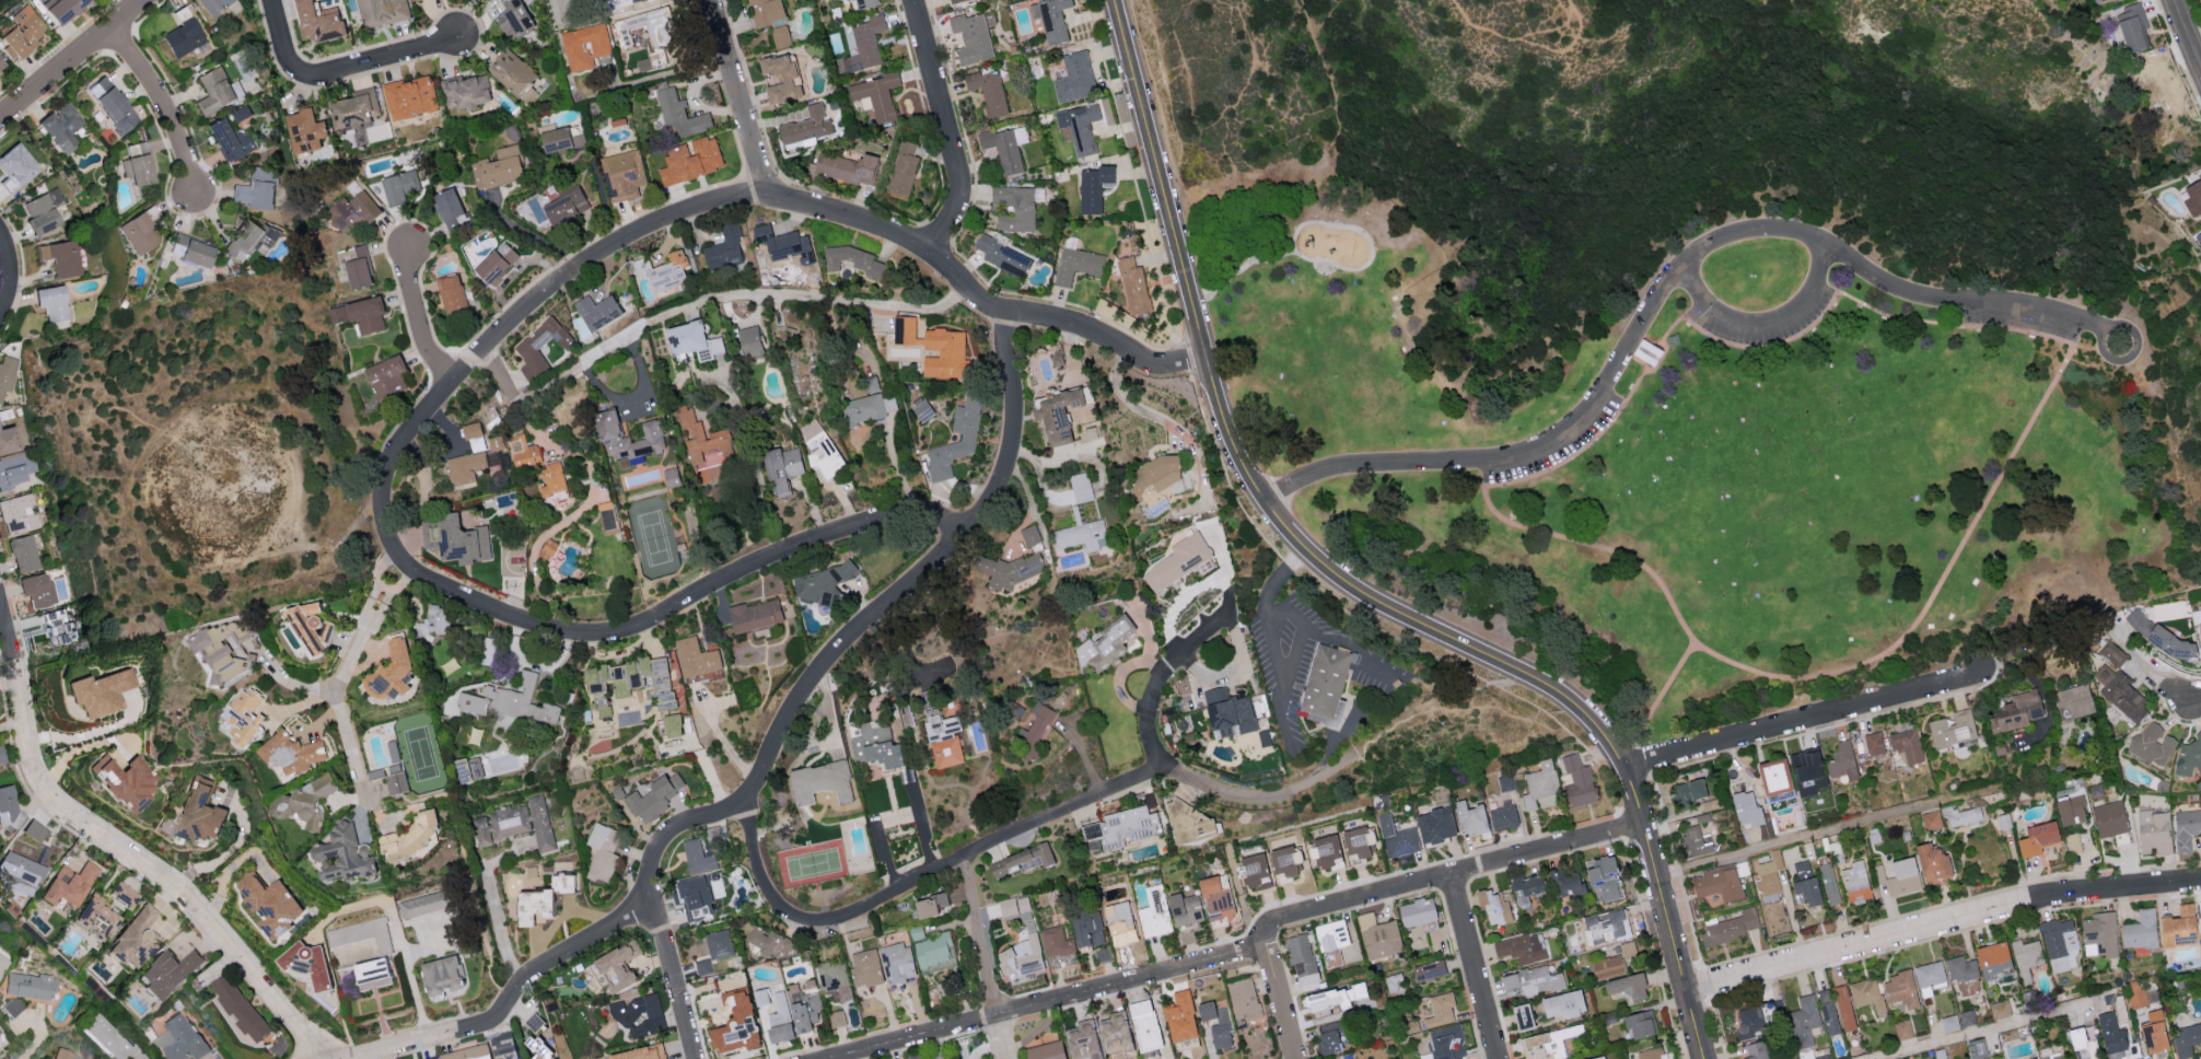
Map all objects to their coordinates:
building: (954, 1)
building: (862, 3)
building: (211, 5)
building: (59, 10)
building: (381, 11)
building: (765, 11)
building: (513, 19)
building: (1051, 19)
building: (315, 21)
building: (2132, 26)
road: (2189, 31)
building: (20, 32)
building: (780, 36)
building: (971, 37)
building: (180, 38)
road: (1530, 42)
building: (865, 43)
building: (584, 45)
road: (72, 60)
building: (0, 66)
road: (335, 71)
building: (512, 72)
building: (780, 77)
building: (1074, 77)
building: (213, 91)
building: (465, 91)
building: (988, 91)
building: (527, 94)
building: (876, 94)
building: (409, 96)
road: (737, 98)
building: (110, 104)
road: (166, 106)
building: (353, 107)
building: (678, 115)
building: (805, 125)
building: (1079, 126)
building: (59, 127)
road: (945, 127)
building: (301, 130)
building: (229, 139)
building: (559, 139)
building: (1005, 147)
building: (689, 160)
building: (14, 166)
building: (137, 166)
building: (500, 166)
building: (846, 167)
building: (901, 170)
building: (2200, 173)
building: (622, 174)
building: (397, 186)
building: (1092, 187)
building: (256, 188)
building: (2192, 198)
building: (363, 206)
building: (562, 206)
building: (1016, 206)
building: (446, 207)
building: (40, 211)
road: (1323, 226)
building: (137, 233)
building: (251, 238)
building: (777, 242)
building: (723, 247)
building: (42, 252)
building: (191, 252)
building: (1003, 256)
building: (65, 258)
building: (853, 259)
building: (493, 261)
building: (1076, 264)
building: (354, 267)
building: (664, 270)
road: (10, 272)
building: (1133, 284)
building: (450, 292)
road: (729, 294)
road: (1664, 296)
building: (50, 302)
building: (595, 312)
building: (359, 314)
road: (416, 318)
parking lot: (1805, 319)
parking lot: (2023, 321)
park: (1711, 324)
road: (1767, 325)
road: (2112, 327)
building: (689, 340)
road: (1111, 340)
building: (748, 341)
building: (531, 344)
building: (934, 348)
building: (1646, 352)
building: (1056, 359)
building: (8, 373)
building: (385, 375)
road: (497, 375)
building: (870, 383)
building: (869, 406)
building: (922, 410)
building: (1056, 416)
road: (1154, 418)
building: (470, 430)
building: (1087, 432)
building: (652, 437)
building: (968, 437)
building: (7, 439)
road: (401, 445)
building: (702, 445)
parking lot: (1560, 447)
building: (522, 450)
road: (752, 459)
road: (895, 465)
building: (465, 466)
building: (780, 467)
building: (18, 468)
road: (1246, 472)
building: (1152, 474)
building: (669, 477)
building: (550, 479)
building: (1078, 487)
building: (19, 514)
building: (1079, 535)
building: (1026, 536)
building: (459, 540)
building: (23, 554)
building: (1178, 560)
building: (1003, 570)
road: (921, 573)
building: (816, 584)
building: (36, 589)
building: (753, 614)
building: (435, 619)
road: (366, 624)
building: (55, 625)
building: (314, 629)
road: (1300, 629)
building: (2199, 631)
road: (1274, 639)
building: (220, 644)
building: (1105, 644)
road: (1347, 645)
building: (488, 650)
building: (2112, 653)
building: (698, 659)
building: (449, 665)
building: (391, 670)
building: (625, 674)
road: (1828, 678)
road: (291, 683)
building: (1325, 685)
building: (94, 691)
building: (2121, 691)
road: (2178, 694)
building: (2074, 699)
building: (511, 701)
road: (1656, 705)
building: (1013, 711)
building: (2016, 711)
building: (1227, 712)
building: (242, 713)
road: (1803, 717)
building: (672, 724)
building: (1034, 726)
building: (1953, 729)
building: (1265, 737)
building: (941, 738)
building: (1874, 742)
road: (348, 743)
building: (872, 744)
road: (1153, 744)
building: (2152, 744)
building: (1906, 745)
building: (288, 752)
building: (1, 754)
building: (2190, 754)
building: (1841, 760)
building: (1806, 771)
building: (1773, 775)
building: (394, 780)
building: (818, 780)
building: (120, 781)
building: (1577, 781)
building: (1540, 785)
building: (1688, 791)
building: (654, 795)
building: (304, 800)
building: (8, 807)
building: (2071, 808)
building: (197, 810)
building: (1750, 813)
building: (1503, 815)
building: (1960, 815)
building: (1469, 816)
building: (1701, 817)
building: (2109, 817)
building: (1930, 818)
building: (1187, 821)
building: (516, 823)
building: (1434, 824)
building: (1126, 825)
building: (2186, 828)
building: (31, 830)
road: (1826, 831)
building: (2153, 831)
building: (408, 836)
building: (1398, 836)
building: (2037, 837)
building: (1696, 840)
road: (119, 848)
building: (1325, 849)
building: (602, 851)
building: (340, 853)
building: (697, 856)
building: (1018, 859)
building: (1283, 859)
building: (1931, 862)
building: (1253, 868)
building: (529, 870)
building: (18, 873)
road: (1445, 876)
building: (1768, 876)
building: (1899, 876)
road: (925, 877)
building: (1603, 877)
building: (1805, 881)
building: (1855, 881)
building: (560, 882)
building: (1717, 882)
building: (1829, 883)
building: (68, 884)
building: (1568, 885)
building: (1525, 888)
building: (123, 894)
building: (692, 895)
building: (1216, 897)
building: (422, 903)
building: (269, 904)
building: (532, 904)
building: (928, 904)
road: (653, 905)
building: (2200, 905)
building: (1492, 906)
road: (496, 907)
building: (1015, 907)
building: (1185, 908)
building: (1155, 911)
building: (1418, 911)
road: (1666, 911)
building: (100, 912)
road: (1941, 921)
building: (1119, 922)
building: (1621, 926)
building: (2178, 926)
building: (1731, 927)
building: (1087, 929)
building: (2141, 931)
road: (398, 932)
building: (2099, 933)
building: (1379, 935)
building: (767, 939)
building: (132, 940)
building: (1331, 940)
building: (1056, 941)
building: (2061, 944)
building: (1522, 946)
building: (715, 949)
building: (934, 949)
building: (1627, 949)
building: (347, 953)
building: (1021, 955)
building: (2027, 957)
road: (988, 958)
building: (1302, 958)
building: (1992, 959)
building: (898, 962)
building: (3, 963)
building: (615, 964)
building: (312, 965)
building: (865, 966)
building: (1607, 966)
road: (1477, 967)
building: (1959, 967)
building: (1428, 969)
building: (166, 973)
building: (370, 973)
building: (441, 973)
building: (1929, 977)
building: (834, 978)
building: (1530, 981)
building: (31, 986)
building: (1627, 986)
building: (1901, 988)
building: (1867, 993)
building: (2136, 993)
building: (758, 996)
building: (1243, 998)
road: (513, 1001)
building: (1325, 1001)
building: (651, 1002)
road: (1048, 1002)
road: (1280, 1002)
building: (1563, 1004)
building: (240, 1006)
building: (1844, 1006)
building: (2001, 1008)
building: (1440, 1009)
building: (1766, 1010)
building: (1828, 1011)
building: (792, 1014)
building: (1521, 1014)
building: (1179, 1016)
building: (1967, 1016)
building: (837, 1017)
building: (1747, 1021)
building: (1805, 1021)
building: (1215, 1022)
building: (1639, 1022)
building: (1948, 1022)
building: (733, 1023)
building: (1145, 1024)
building: (1411, 1025)
building: (1903, 1028)
road: (1995, 1028)
building: (2153, 1031)
building: (2110, 1032)
building: (1114, 1033)
building: (2080, 1035)
building: (1328, 1037)
building: (112, 1038)
building: (2187, 1038)
building: (180, 1039)
building: (1082, 1039)
building: (1548, 1043)
building: (1446, 1045)
building: (1976, 1047)
building: (502, 1049)
building: (1045, 1050)
building: (1756, 1050)
building: (466, 1052)
building: (639, 1052)
building: (1652, 1052)
building: (65, 1054)
building: (2049, 1054)
building: (904, 1058)
building: (1594, 1058)
building: (1896, 1058)
building: (2036, 1058)

